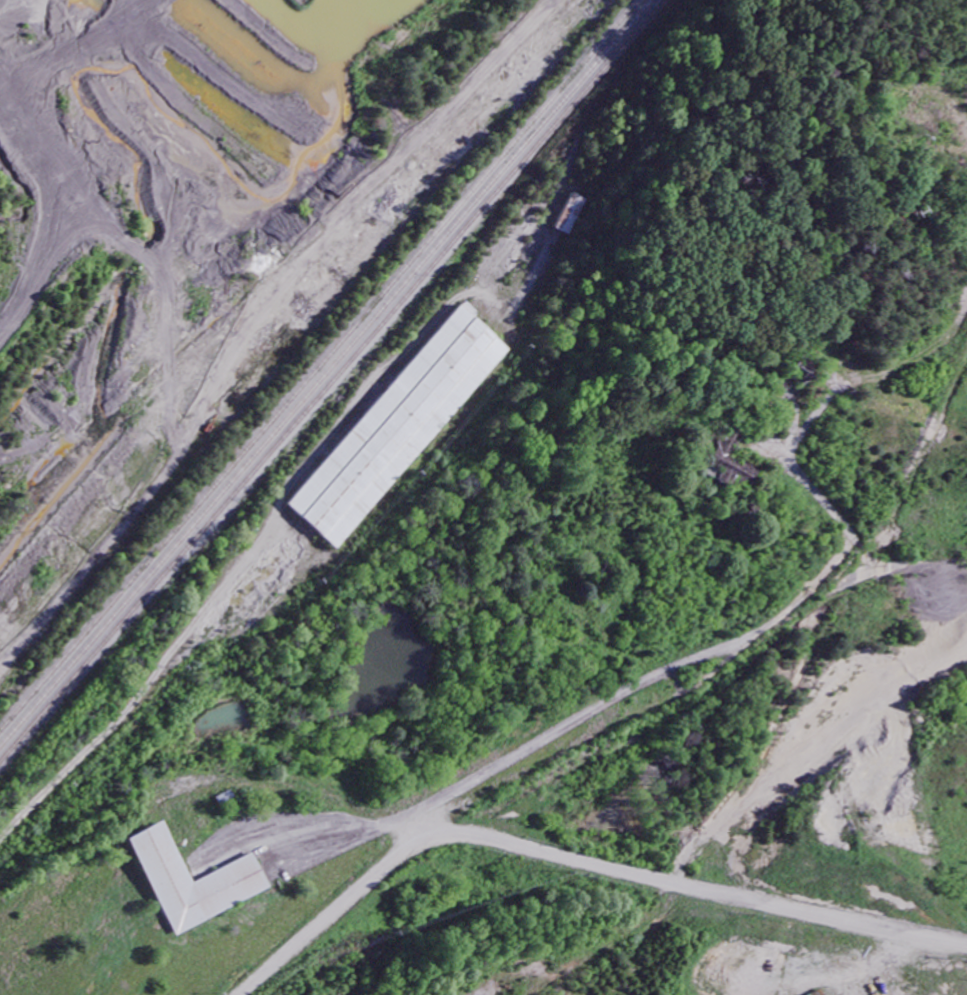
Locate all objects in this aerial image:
railway: (324, 368)
building: (801, 372)
railway: (341, 385)
building: (400, 432)
building: (734, 466)
road: (299, 470)
road: (654, 677)
road: (419, 839)
road: (584, 866)
building: (197, 883)

